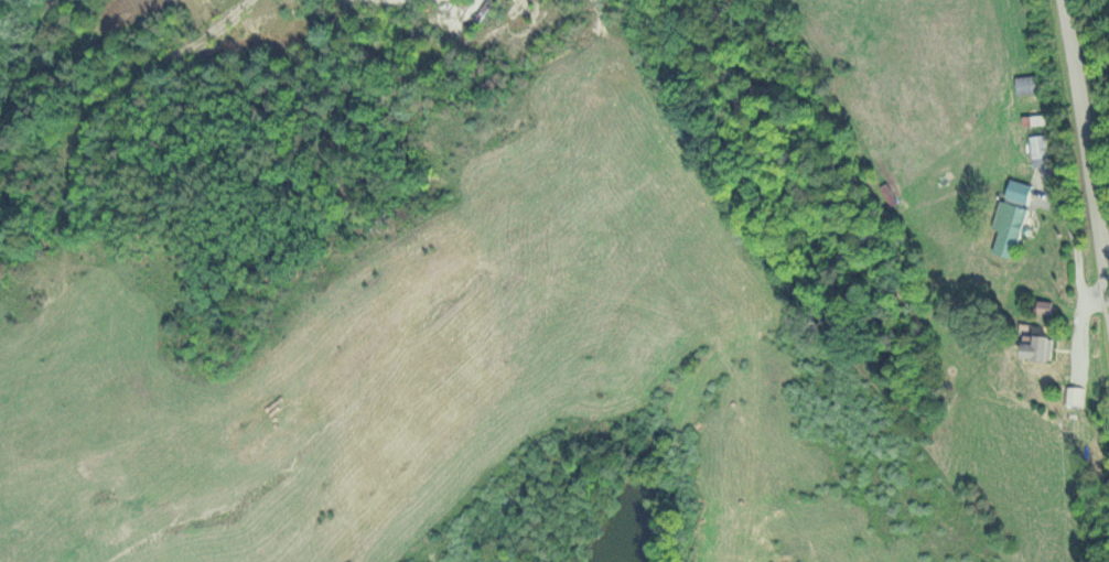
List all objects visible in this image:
building: (1034, 119)
road: (1084, 138)
building: (1018, 190)
building: (1008, 226)
building: (1037, 346)
building: (1075, 396)

